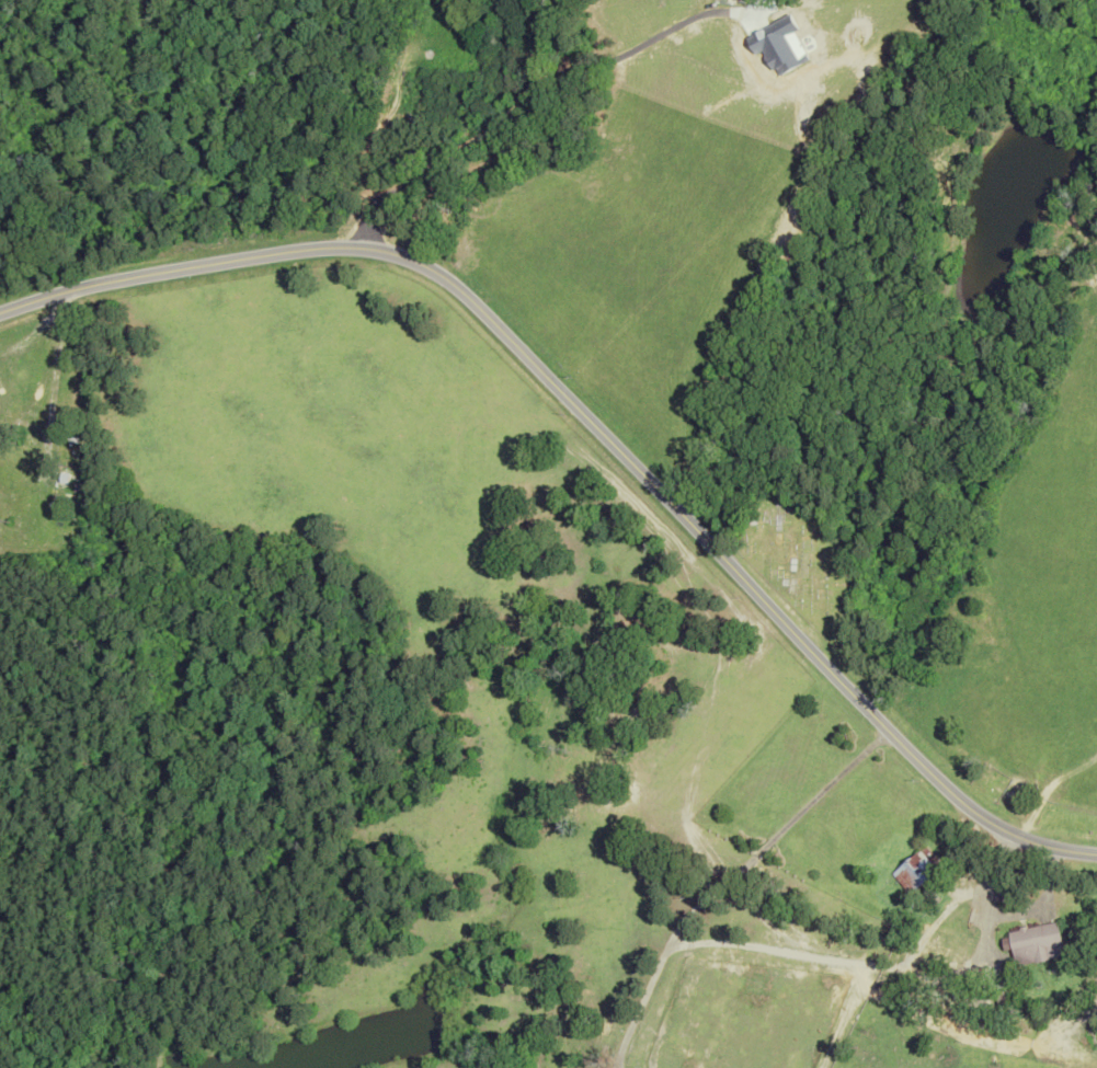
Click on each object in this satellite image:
road: (594, 428)
park: (796, 552)
building: (916, 870)
building: (1035, 943)
road: (756, 948)

